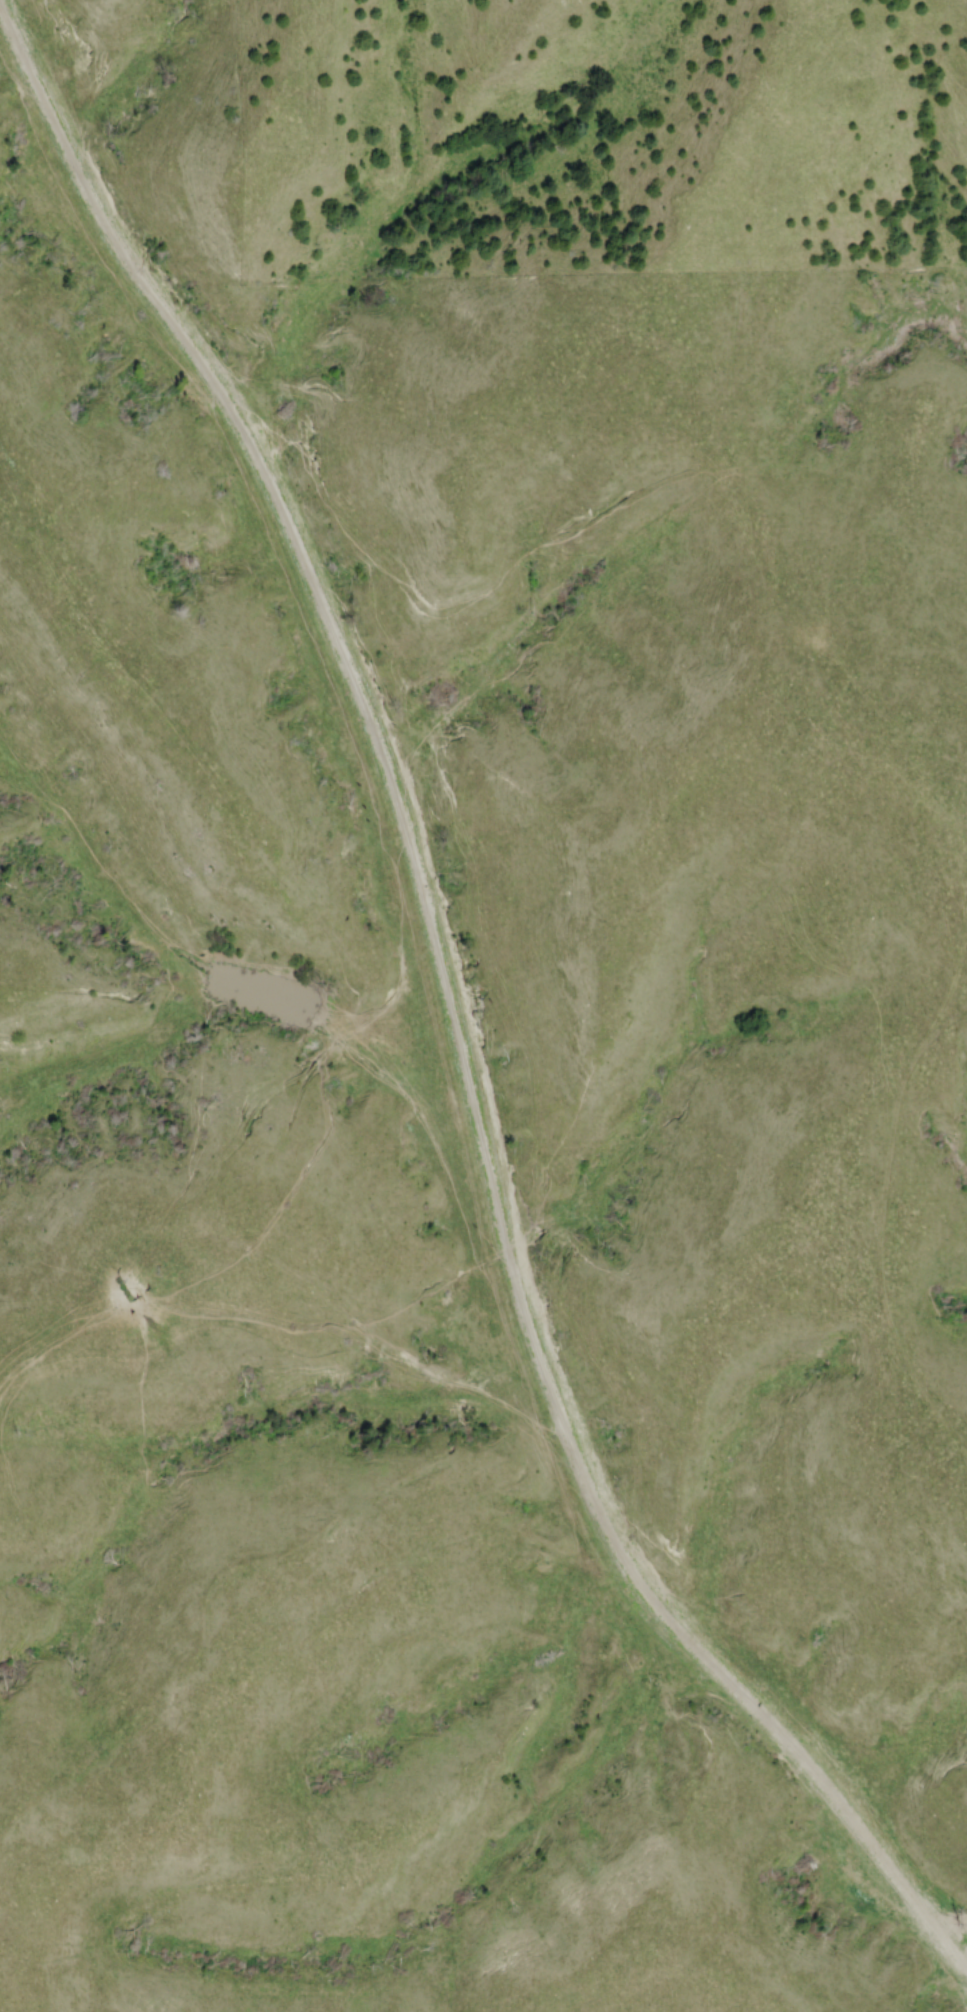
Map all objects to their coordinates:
road: (454, 1006)

